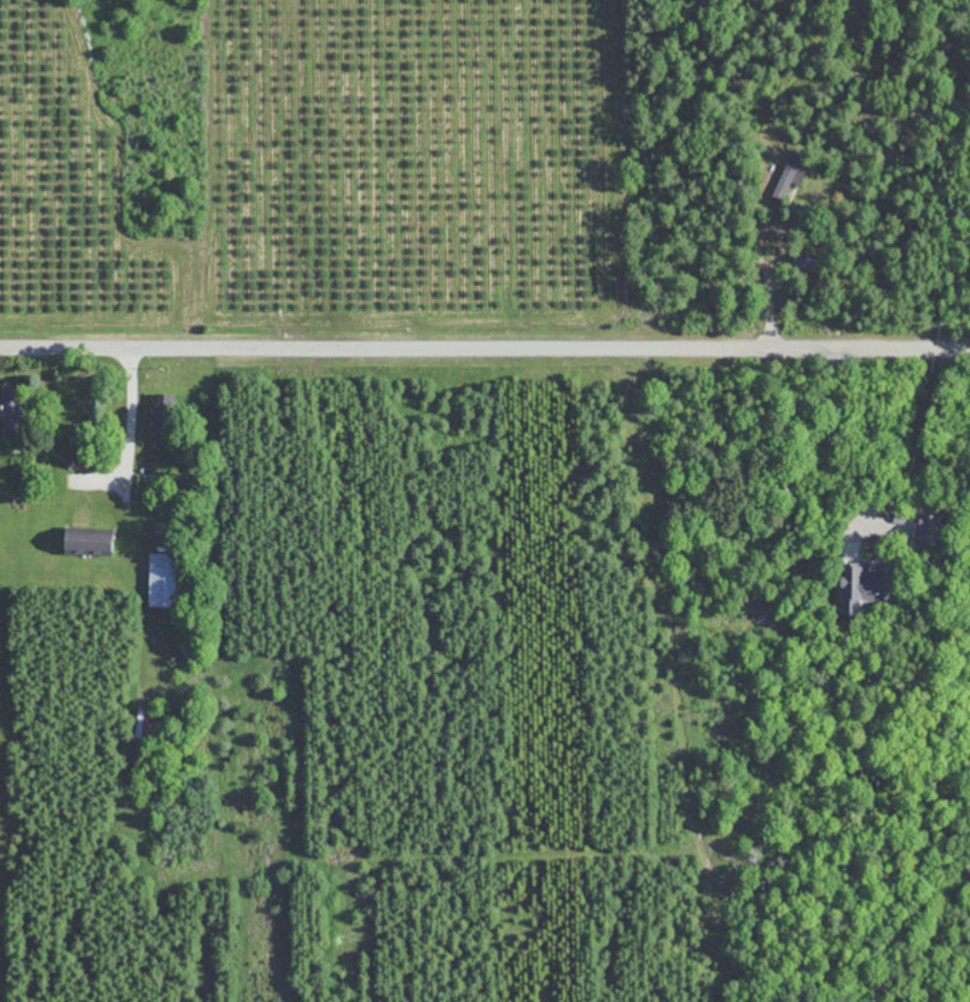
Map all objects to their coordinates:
building: (789, 174)
building: (804, 259)
road: (769, 296)
road: (484, 348)
building: (11, 410)
building: (162, 413)
road: (129, 414)
road: (920, 428)
building: (930, 528)
building: (86, 544)
building: (162, 580)
building: (863, 586)
building: (139, 723)

